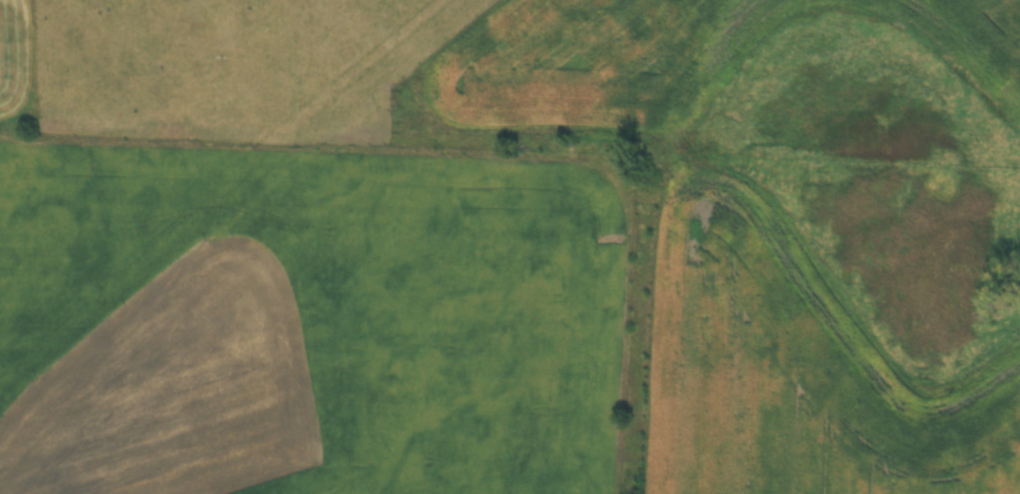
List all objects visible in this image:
crop: (15, 49)

